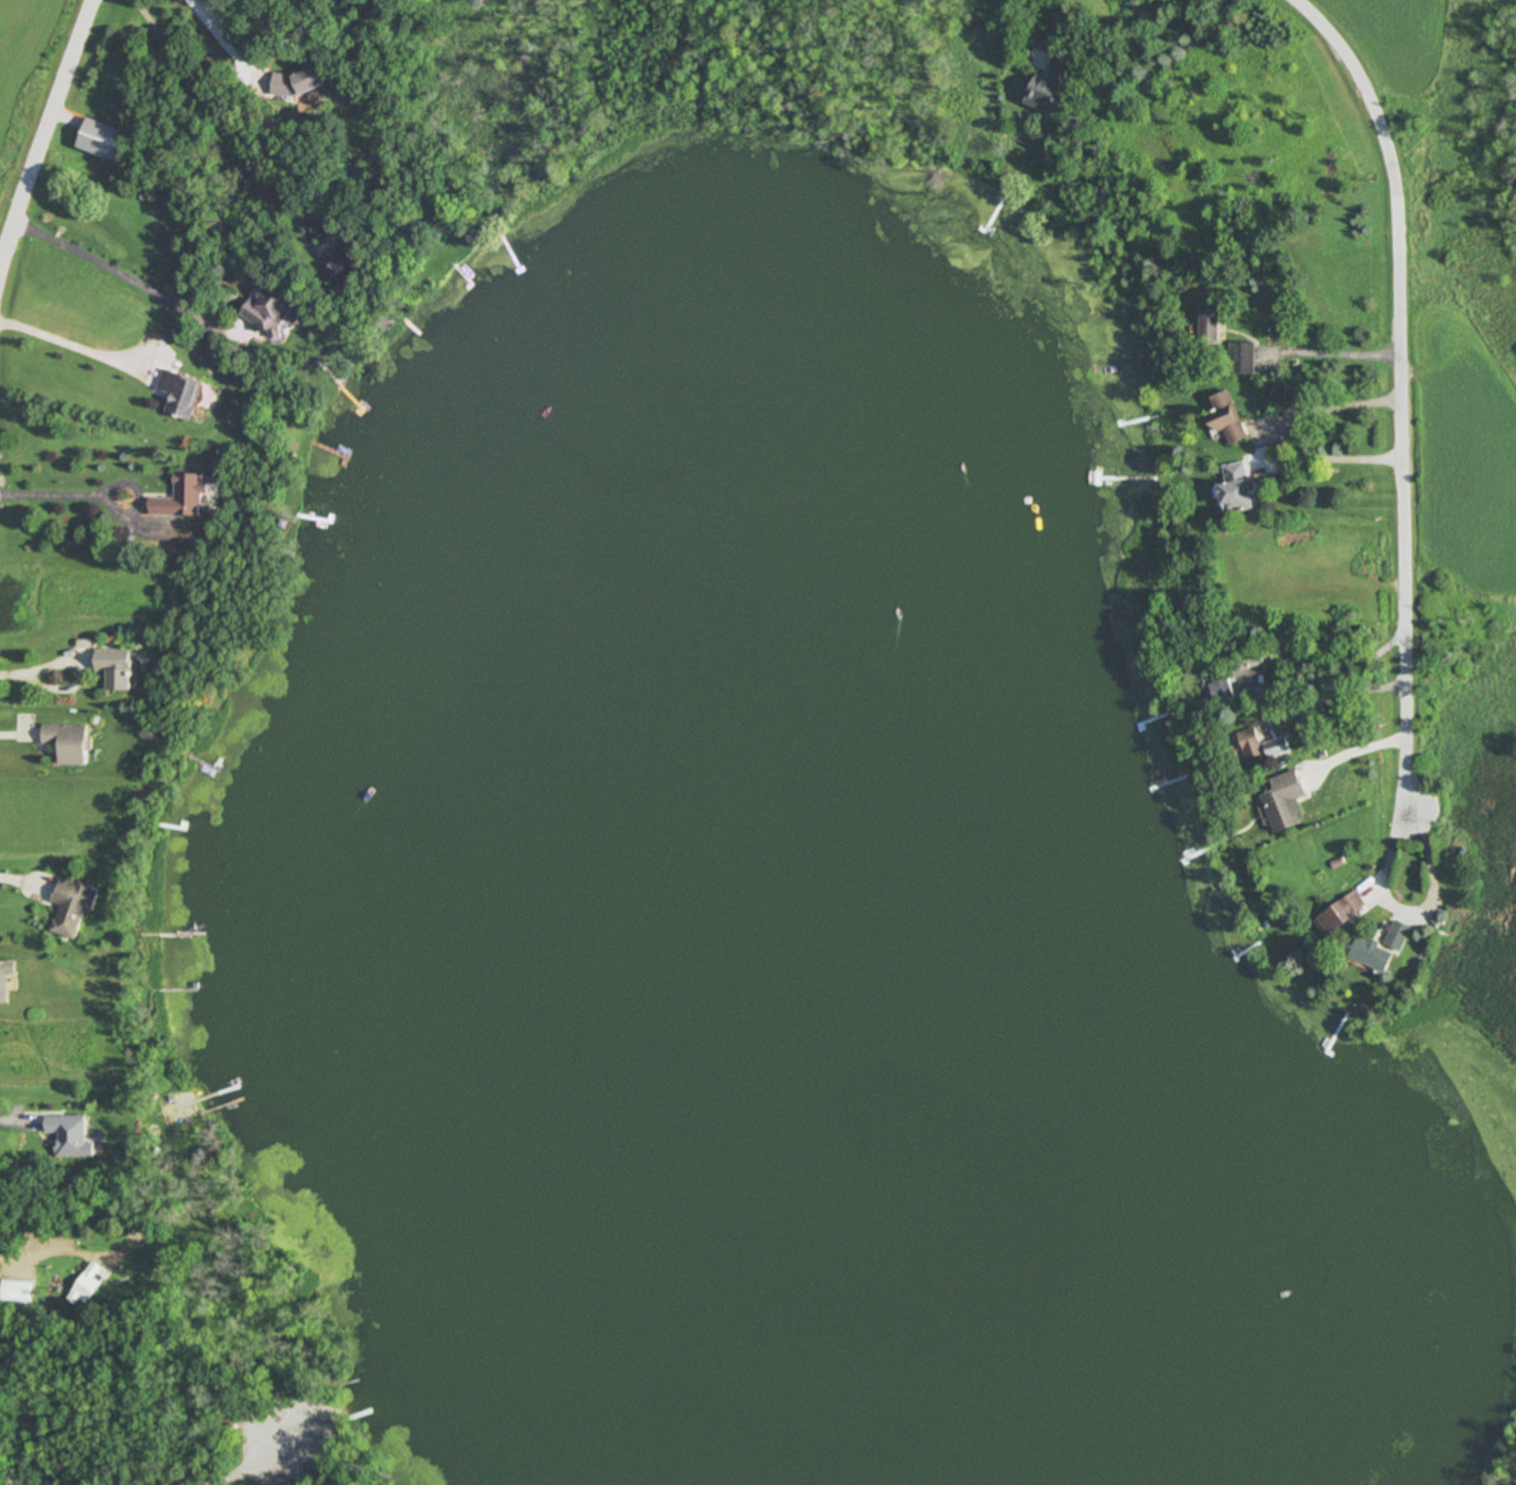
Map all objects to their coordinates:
road: (1057, 12)
road: (228, 38)
building: (1046, 88)
road: (209, 101)
road: (42, 137)
building: (98, 141)
building: (343, 263)
road: (112, 271)
building: (268, 309)
building: (1208, 319)
road: (65, 344)
road: (1340, 352)
building: (1241, 359)
road: (1403, 390)
building: (178, 394)
building: (1287, 397)
road: (1338, 408)
building: (1225, 418)
road: (1341, 461)
building: (1234, 490)
road: (52, 495)
building: (180, 498)
building: (115, 670)
road: (16, 673)
road: (81, 675)
building: (1234, 677)
road: (1262, 701)
road: (11, 735)
building: (66, 743)
building: (1275, 748)
road: (1364, 750)
building: (1252, 751)
building: (1283, 802)
road: (5, 878)
road: (1385, 889)
building: (71, 906)
building: (1341, 914)
building: (1397, 937)
building: (1369, 955)
building: (5, 979)
road: (10, 1121)
building: (69, 1136)
road: (28, 1256)
building: (85, 1284)
building: (15, 1292)
parking lot: (278, 1420)
road: (266, 1464)
road: (39, 1477)

